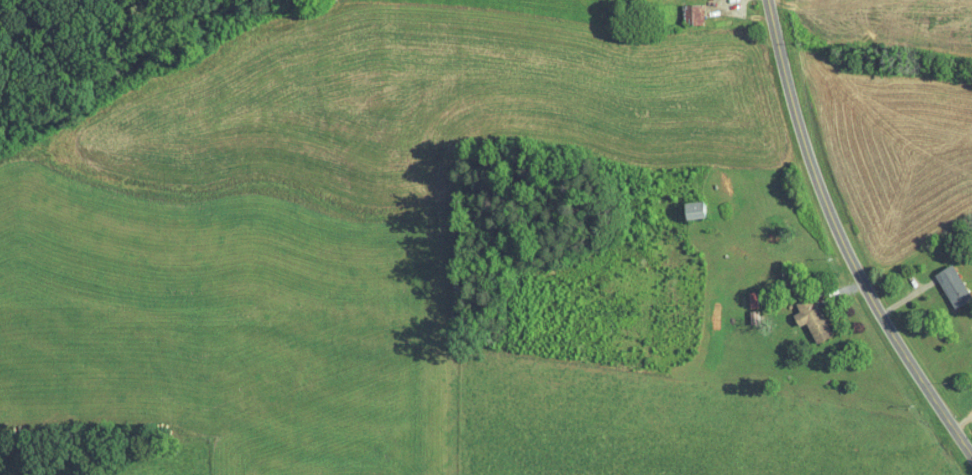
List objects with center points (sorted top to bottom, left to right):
building: (694, 13)
building: (698, 209)
road: (837, 244)
building: (954, 285)
building: (752, 298)
building: (813, 318)

